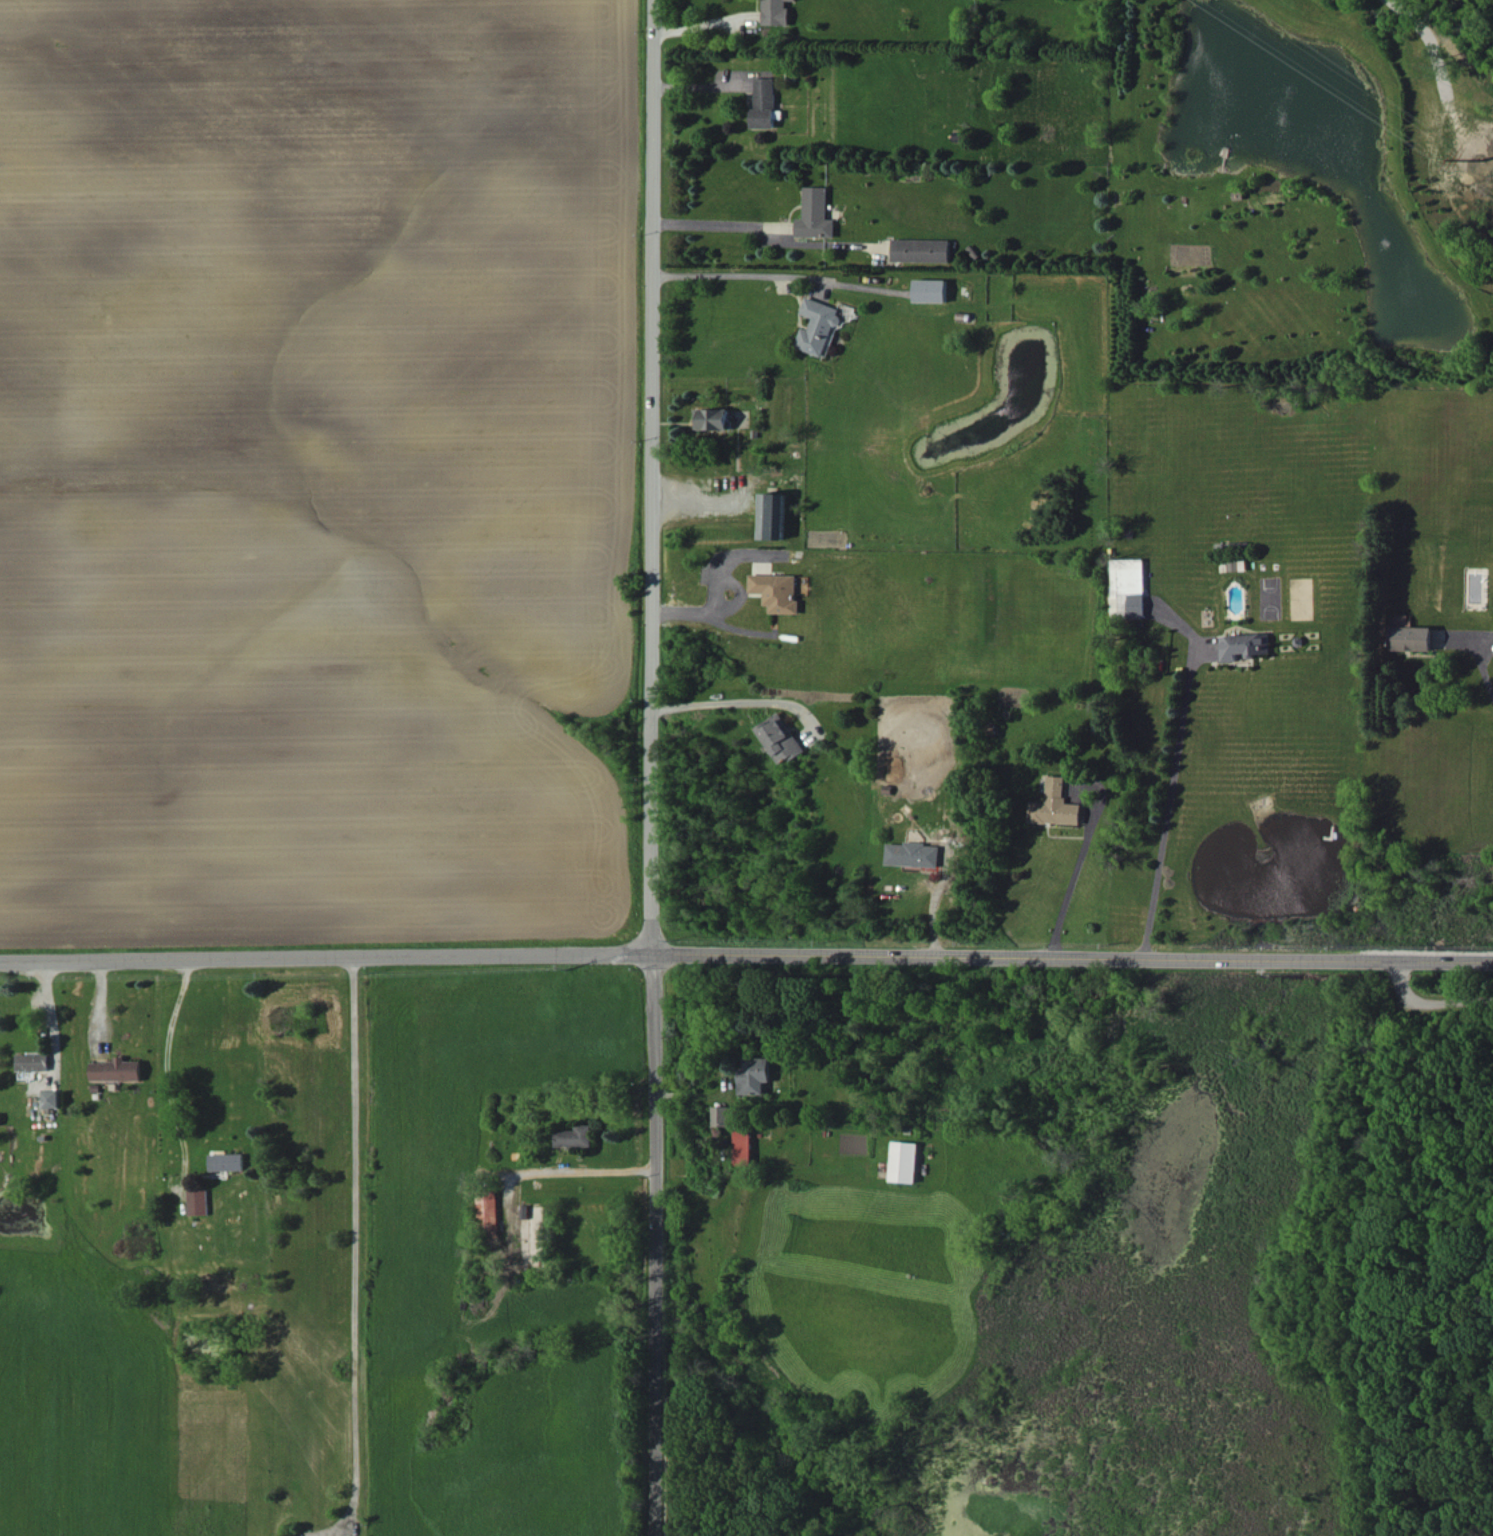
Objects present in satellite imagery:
building: (776, 12)
road: (704, 26)
road: (703, 86)
building: (765, 102)
power tower: (1453, 145)
building: (817, 214)
road: (715, 222)
building: (923, 250)
road: (780, 275)
building: (933, 290)
building: (818, 325)
building: (712, 418)
building: (773, 515)
building: (1128, 588)
building: (779, 591)
road: (728, 609)
building: (1412, 638)
building: (1244, 645)
road: (1482, 658)
road: (734, 702)
building: (781, 738)
road: (649, 767)
road: (1172, 802)
building: (1056, 805)
building: (913, 854)
road: (1074, 877)
road: (746, 954)
road: (1432, 1004)
road: (170, 1053)
building: (33, 1061)
building: (117, 1069)
building: (754, 1075)
building: (50, 1098)
building: (720, 1115)
building: (575, 1136)
building: (227, 1161)
building: (904, 1161)
road: (580, 1170)
building: (198, 1202)
building: (489, 1212)
road: (355, 1260)

